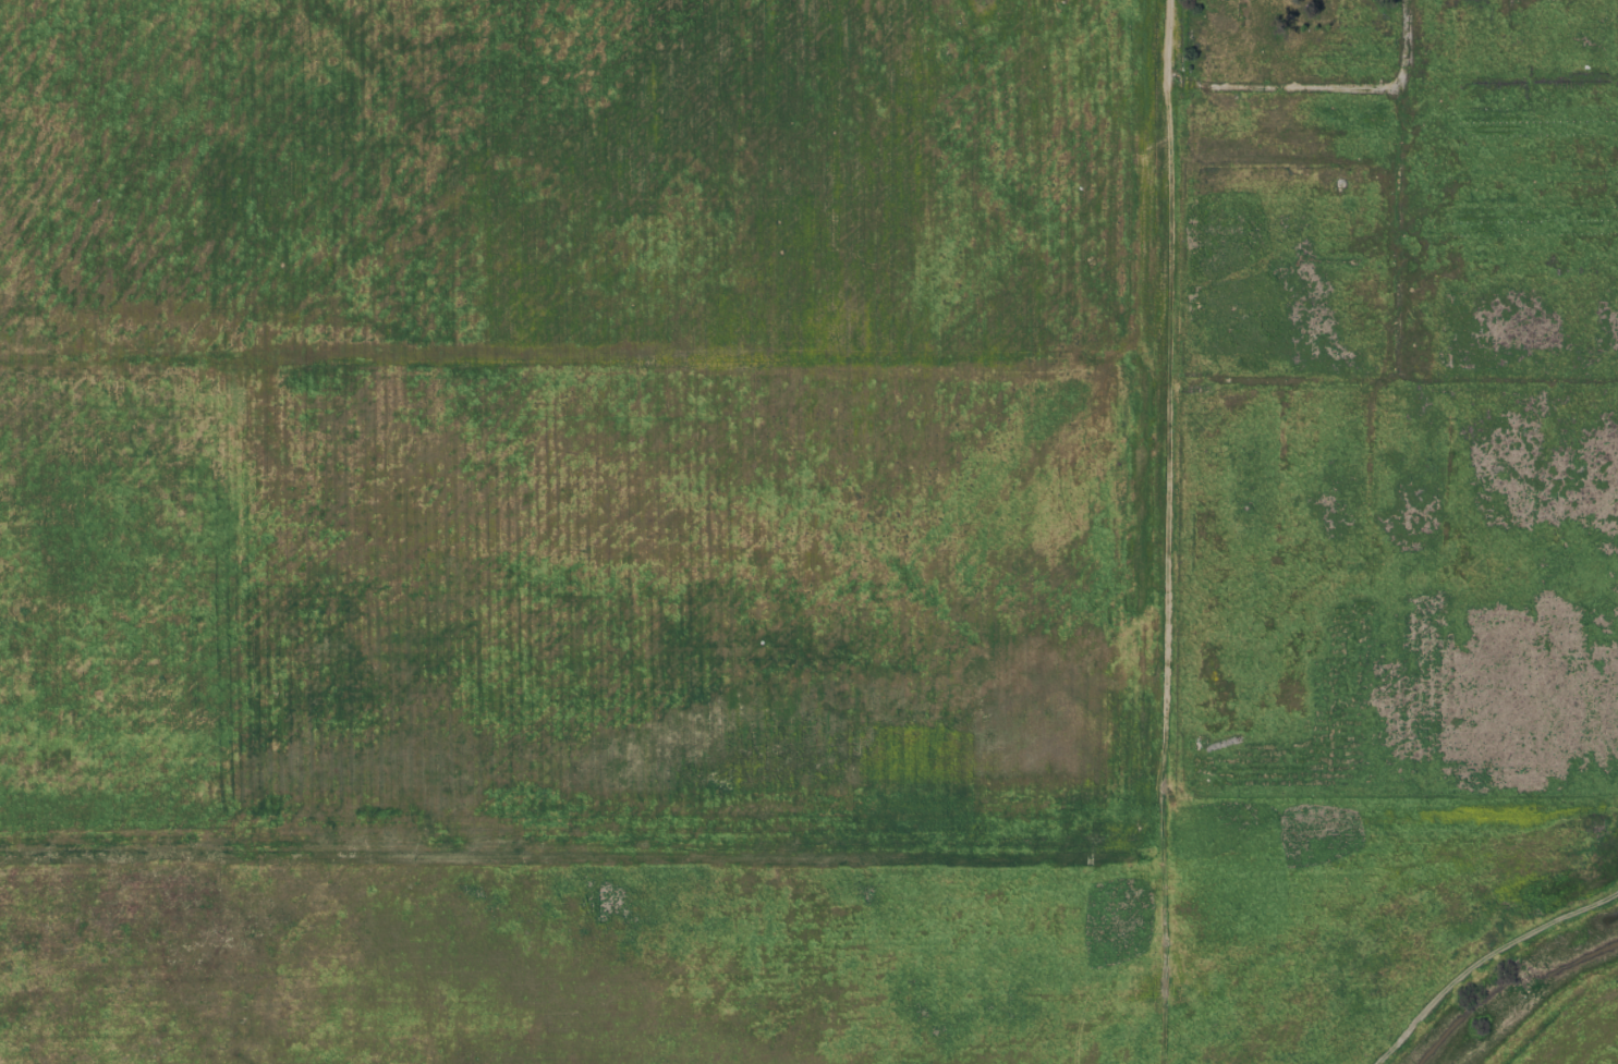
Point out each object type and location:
river: (1519, 993)

